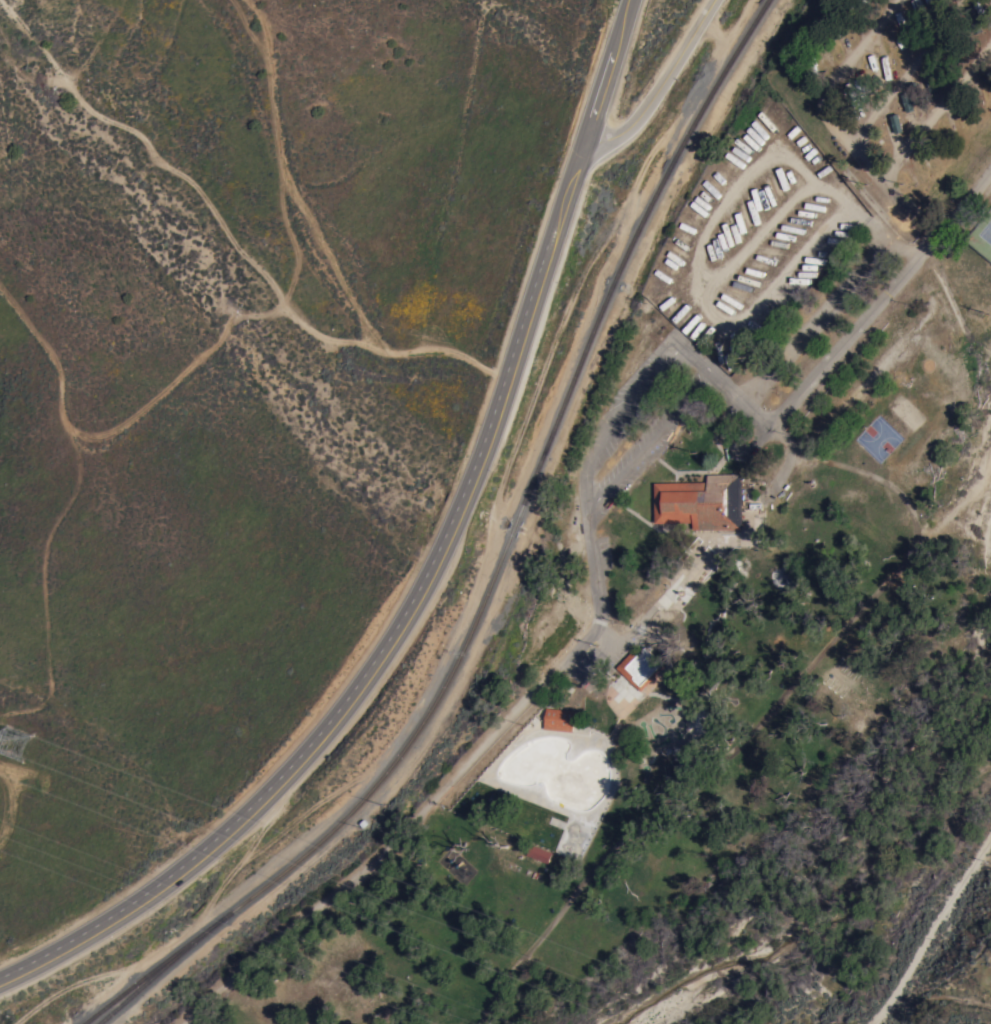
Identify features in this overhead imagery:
road: (905, 74)
road: (656, 87)
road: (826, 92)
road: (939, 114)
road: (912, 210)
park: (986, 232)
road: (881, 300)
railway: (609, 301)
road: (632, 402)
park: (879, 439)
road: (729, 446)
road: (694, 473)
building: (701, 502)
road: (672, 534)
building: (755, 534)
road: (427, 570)
road: (582, 646)
building: (640, 667)
building: (558, 720)
road: (620, 720)
power tower: (32, 747)
railway: (374, 786)
building: (539, 854)
road: (930, 937)
railway: (153, 969)
road: (245, 969)
railway: (161, 970)

